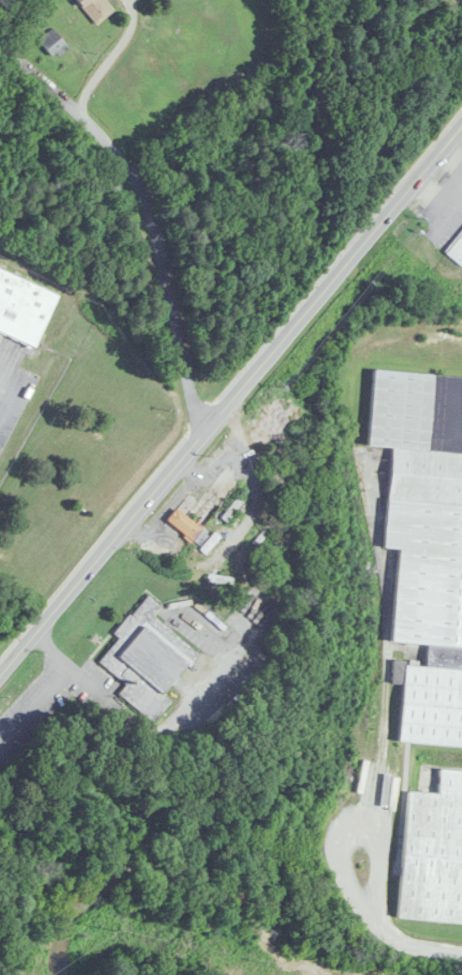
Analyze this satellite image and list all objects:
building: (95, 9)
building: (53, 42)
road: (101, 50)
road: (452, 156)
road: (454, 184)
road: (433, 192)
road: (150, 207)
building: (456, 250)
building: (21, 306)
road: (231, 383)
road: (230, 399)
road: (222, 456)
building: (192, 515)
building: (424, 543)
building: (147, 659)
road: (31, 689)
road: (163, 725)
road: (357, 811)
building: (433, 853)
road: (402, 929)
park: (144, 934)

